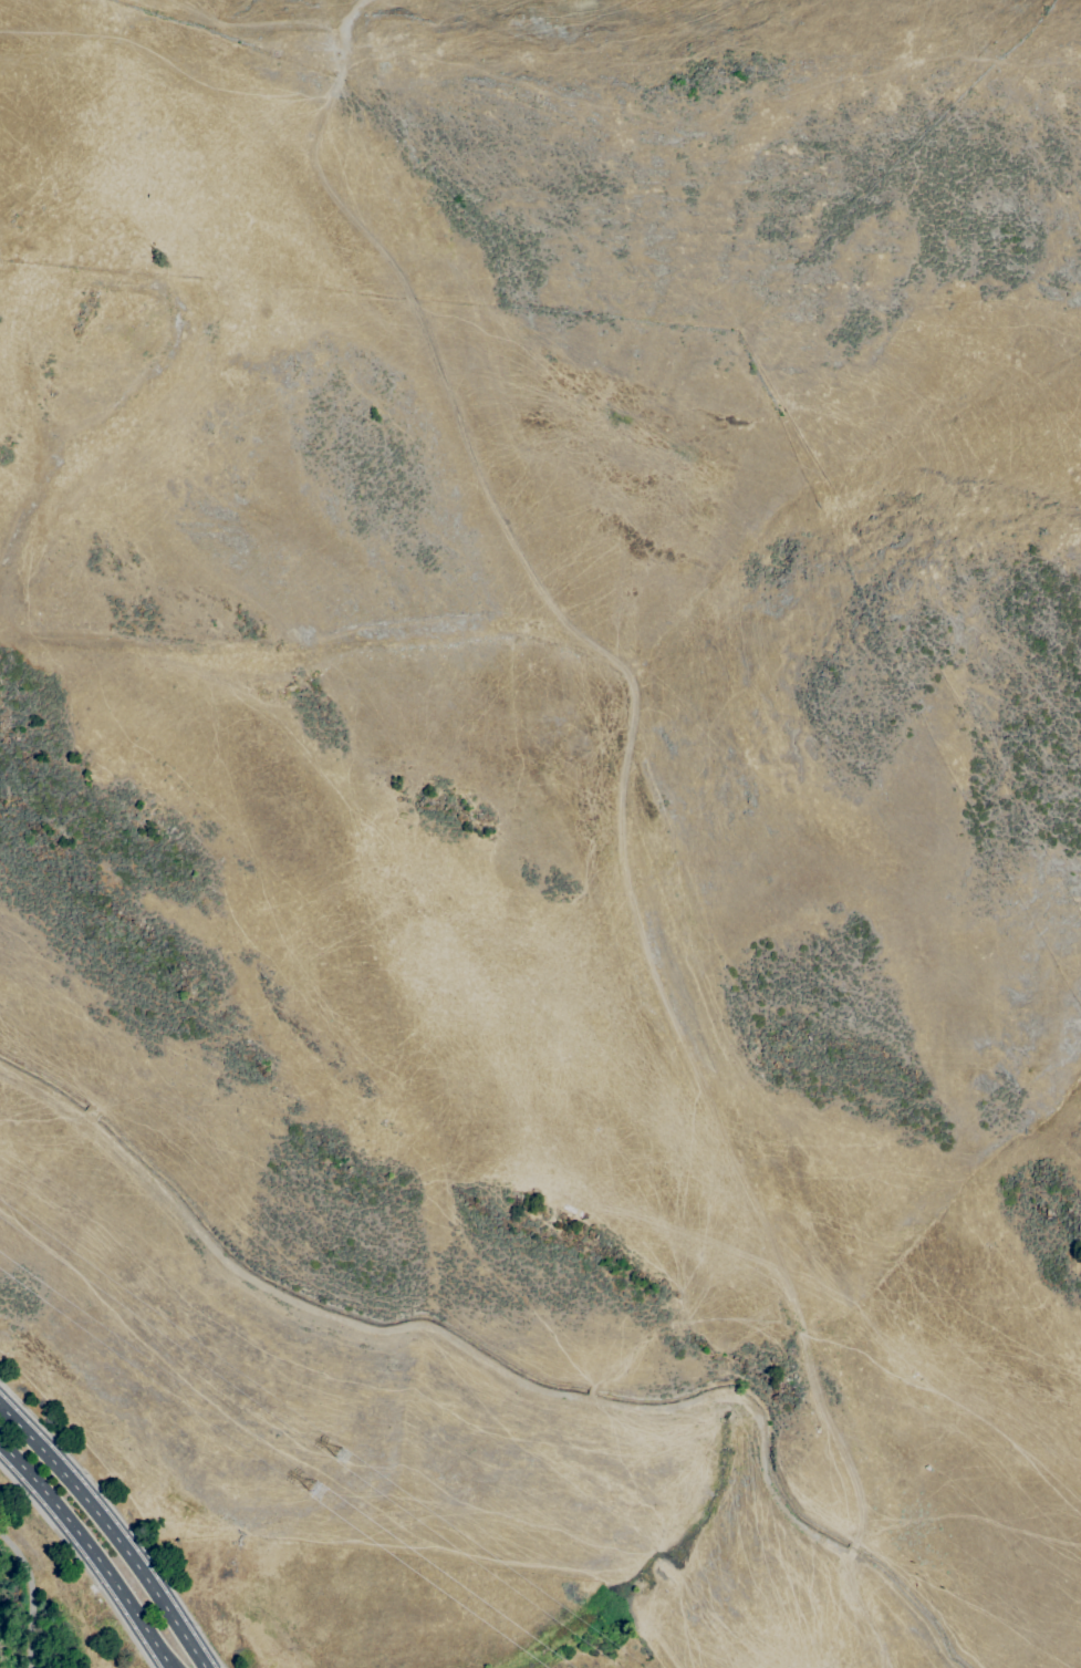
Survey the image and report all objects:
power tower: (345, 1457)
power tower: (318, 1490)
road: (25, 1496)
road: (121, 1517)
road: (107, 1532)
road: (90, 1552)
road: (38, 1593)

